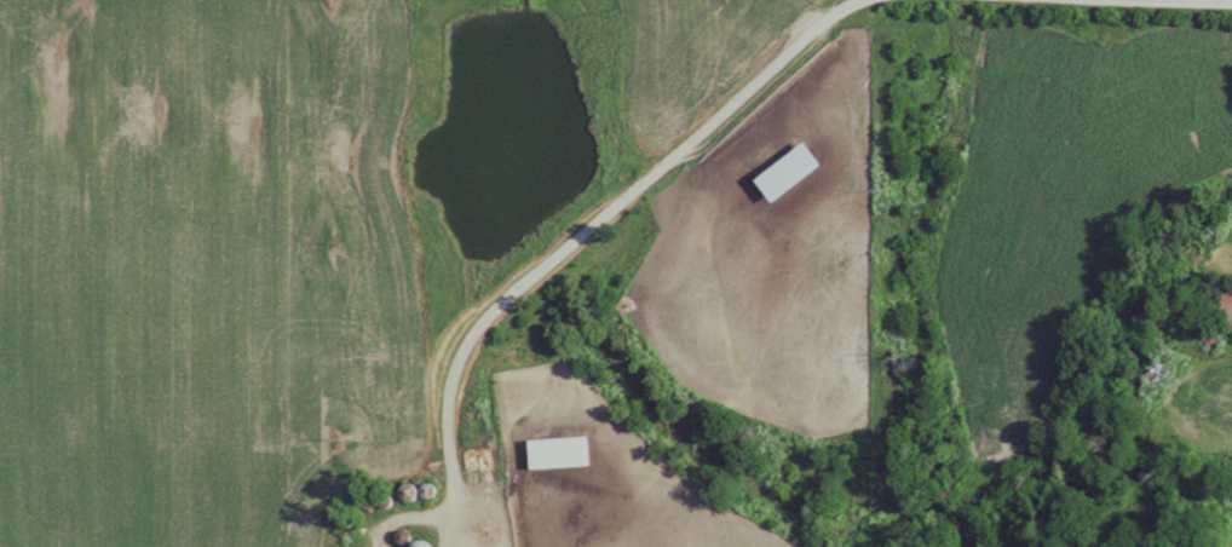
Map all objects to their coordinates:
building: (783, 172)
building: (555, 450)

